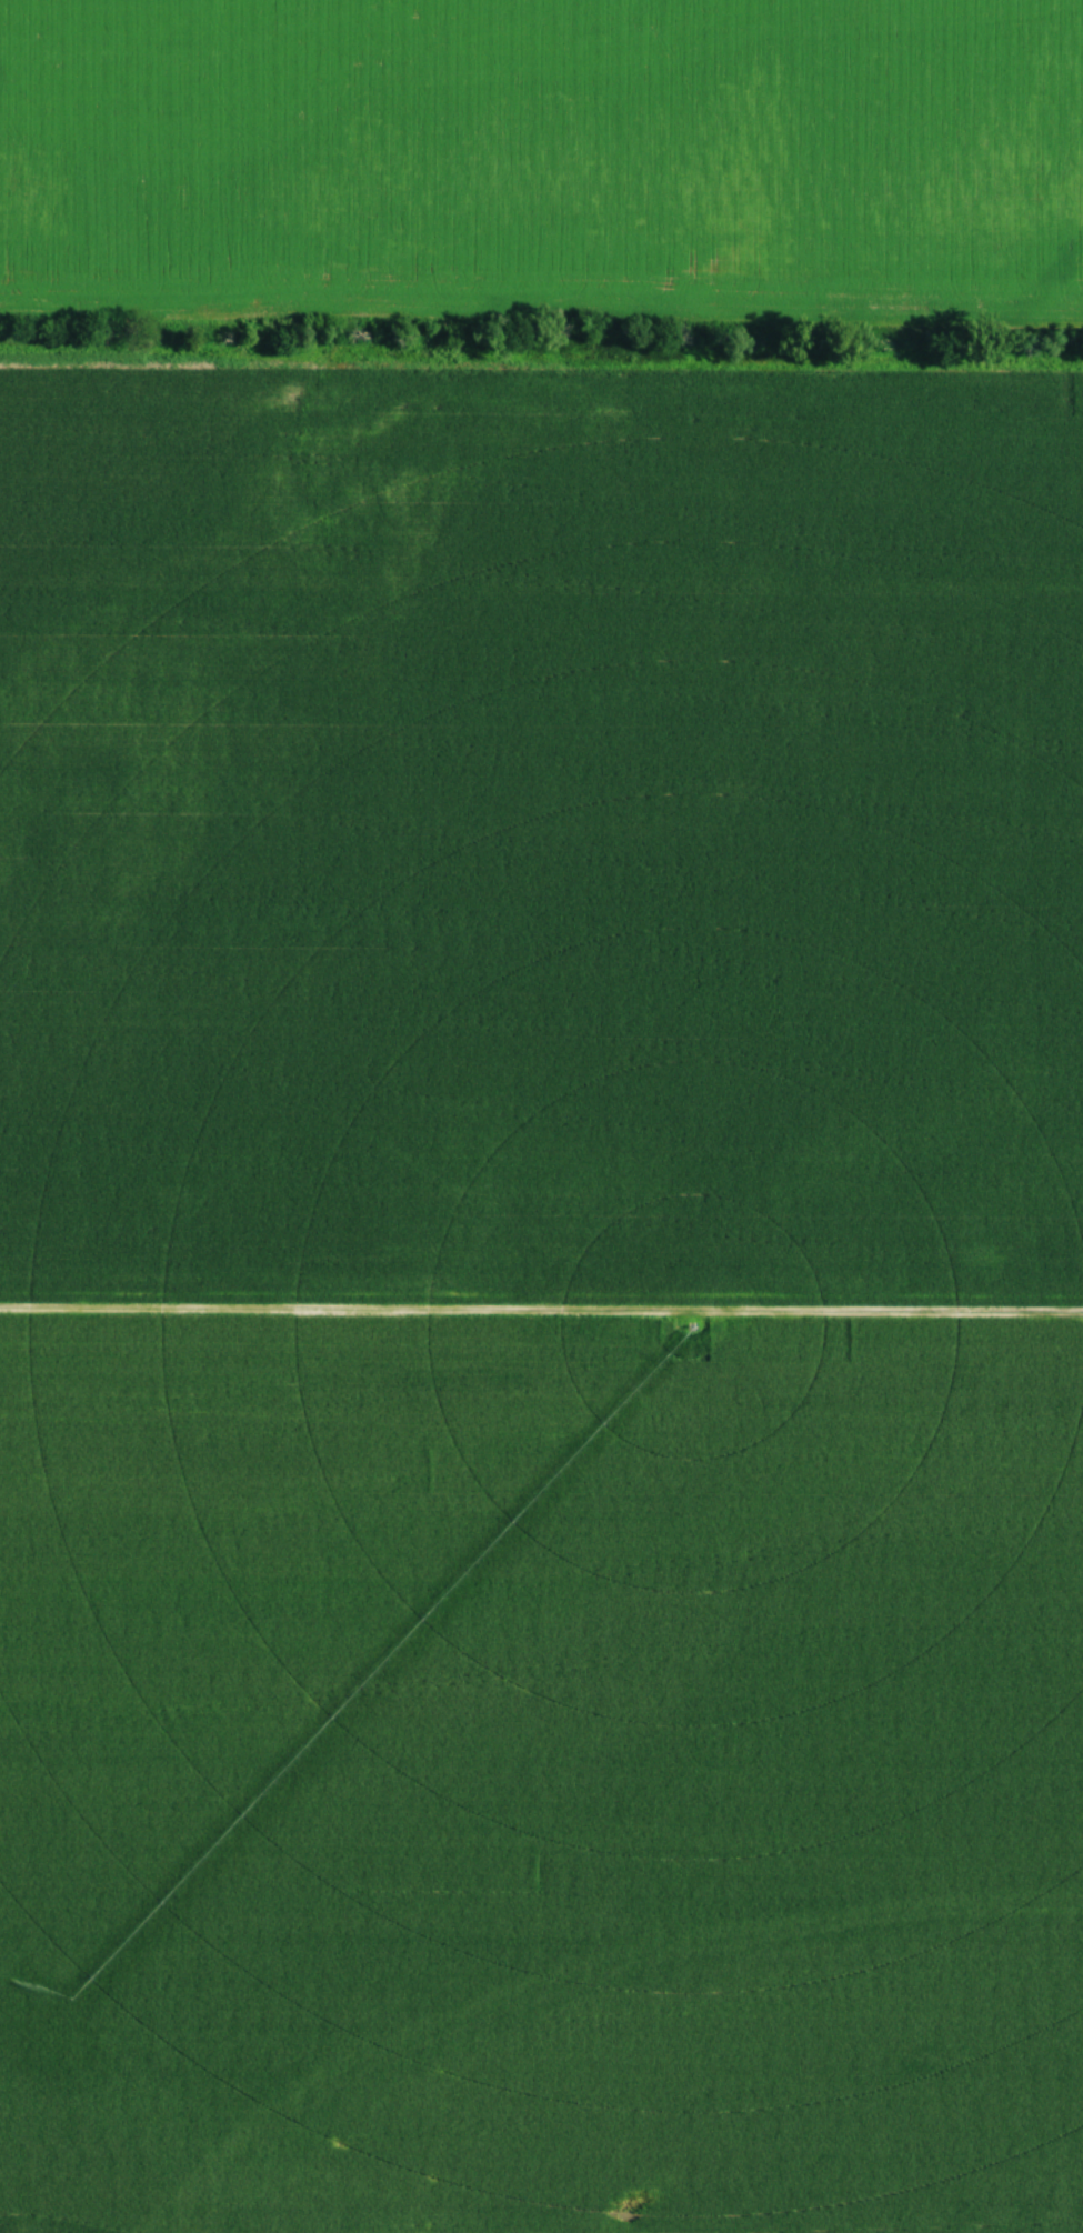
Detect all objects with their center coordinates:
crop: (542, 1296)

